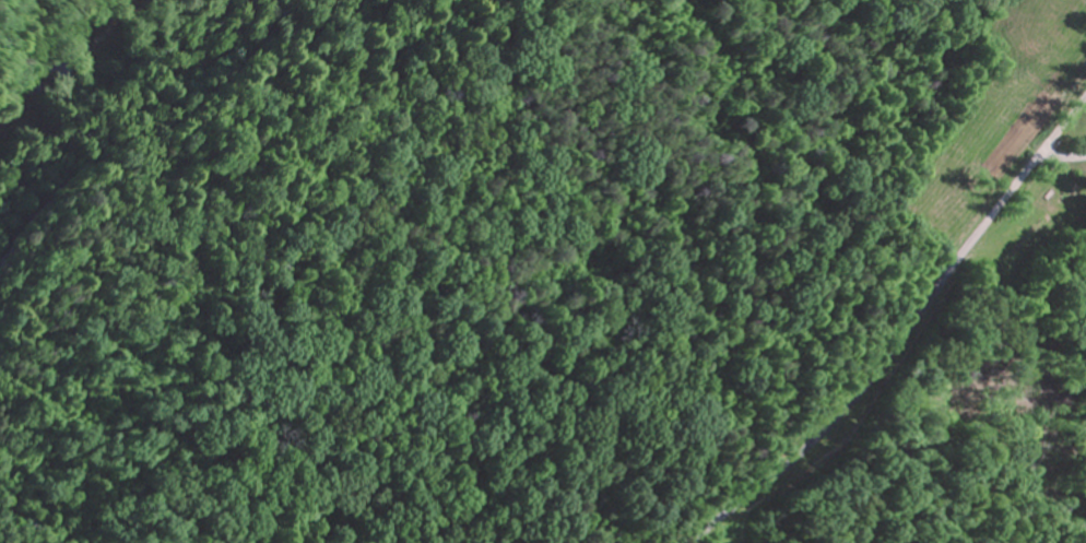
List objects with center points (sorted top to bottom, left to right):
road: (901, 338)

